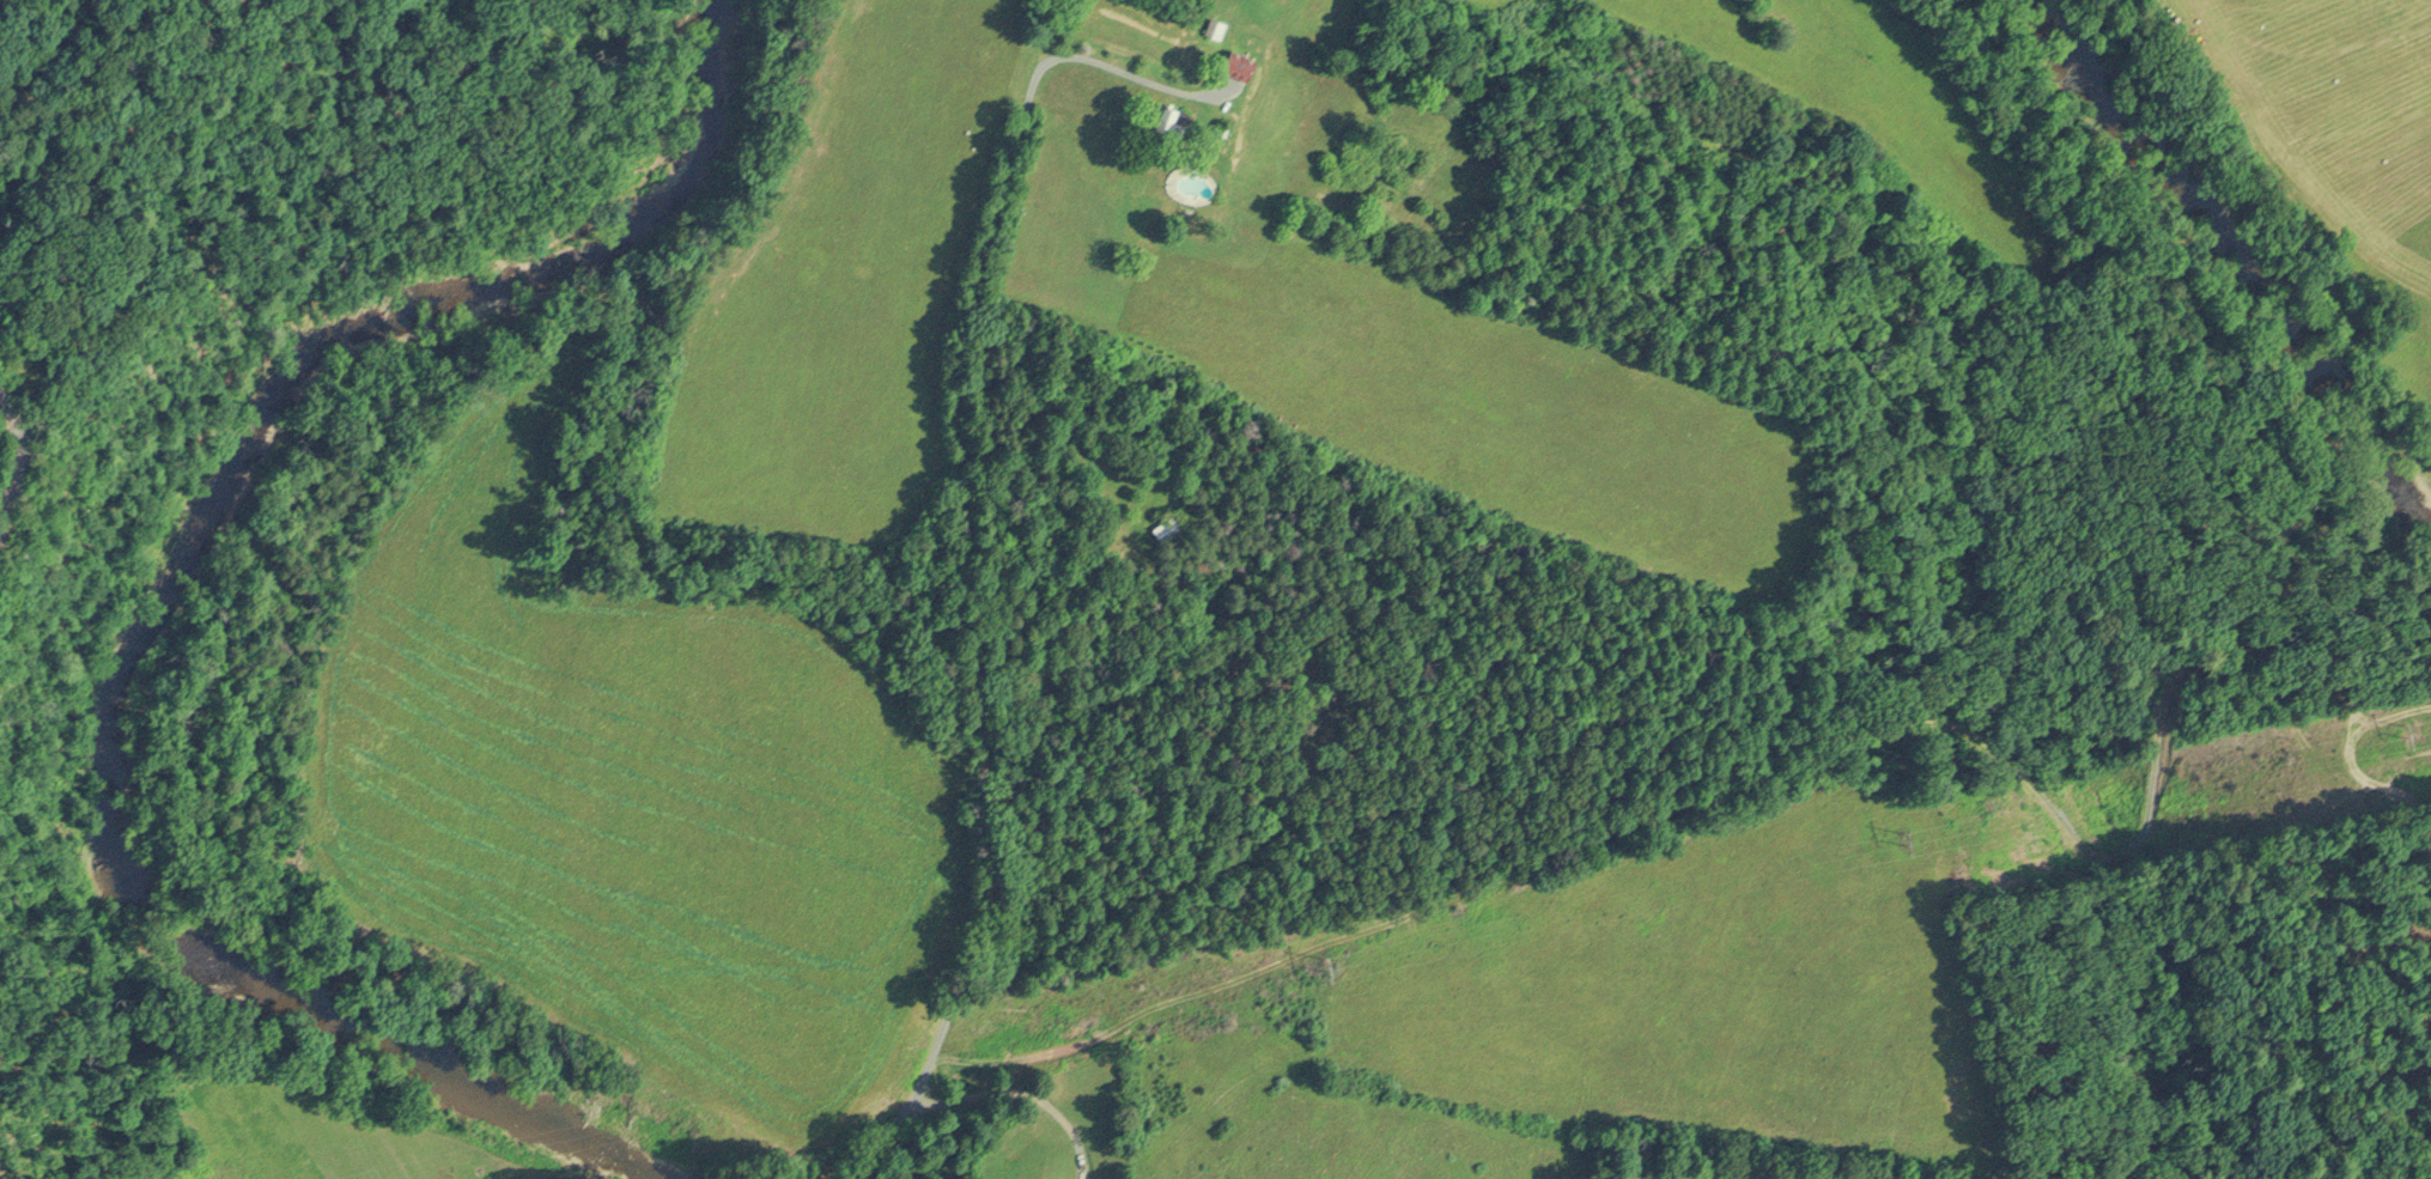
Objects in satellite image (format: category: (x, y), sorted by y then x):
building: (1215, 26)
building: (1236, 65)
road: (573, 78)
river: (2202, 221)
road: (13, 413)
road: (14, 478)
road: (986, 557)
river: (160, 594)
road: (1020, 1088)
road: (877, 1154)

